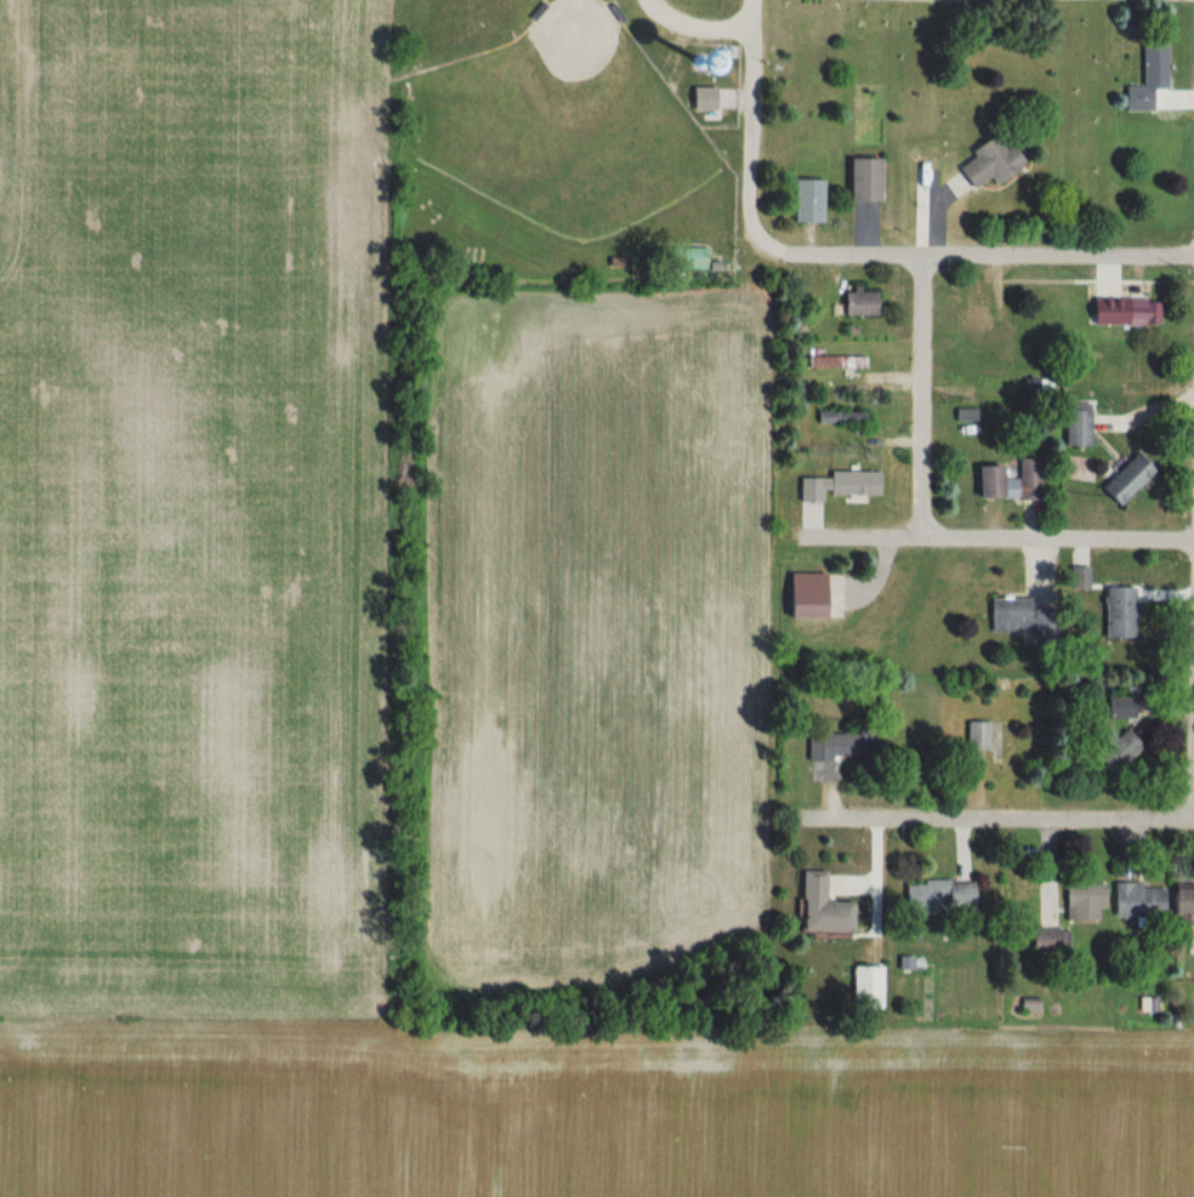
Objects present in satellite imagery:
road: (696, 23)
water tower: (703, 63)
building: (1149, 75)
building: (701, 98)
road: (750, 119)
park: (563, 124)
building: (989, 160)
building: (863, 178)
building: (807, 199)
road: (974, 253)
building: (684, 257)
building: (859, 302)
building: (1141, 312)
building: (836, 361)
building: (1143, 372)
road: (922, 393)
building: (841, 416)
building: (1074, 427)
building: (1126, 479)
building: (1010, 481)
building: (838, 485)
road: (999, 535)
building: (1078, 577)
building: (804, 595)
building: (1118, 608)
building: (1018, 617)
building: (1120, 706)
building: (977, 734)
building: (837, 751)
building: (1116, 752)
road: (980, 822)
building: (939, 894)
building: (1084, 900)
building: (1138, 900)
building: (820, 906)
building: (1182, 906)
building: (1050, 939)
building: (866, 986)

